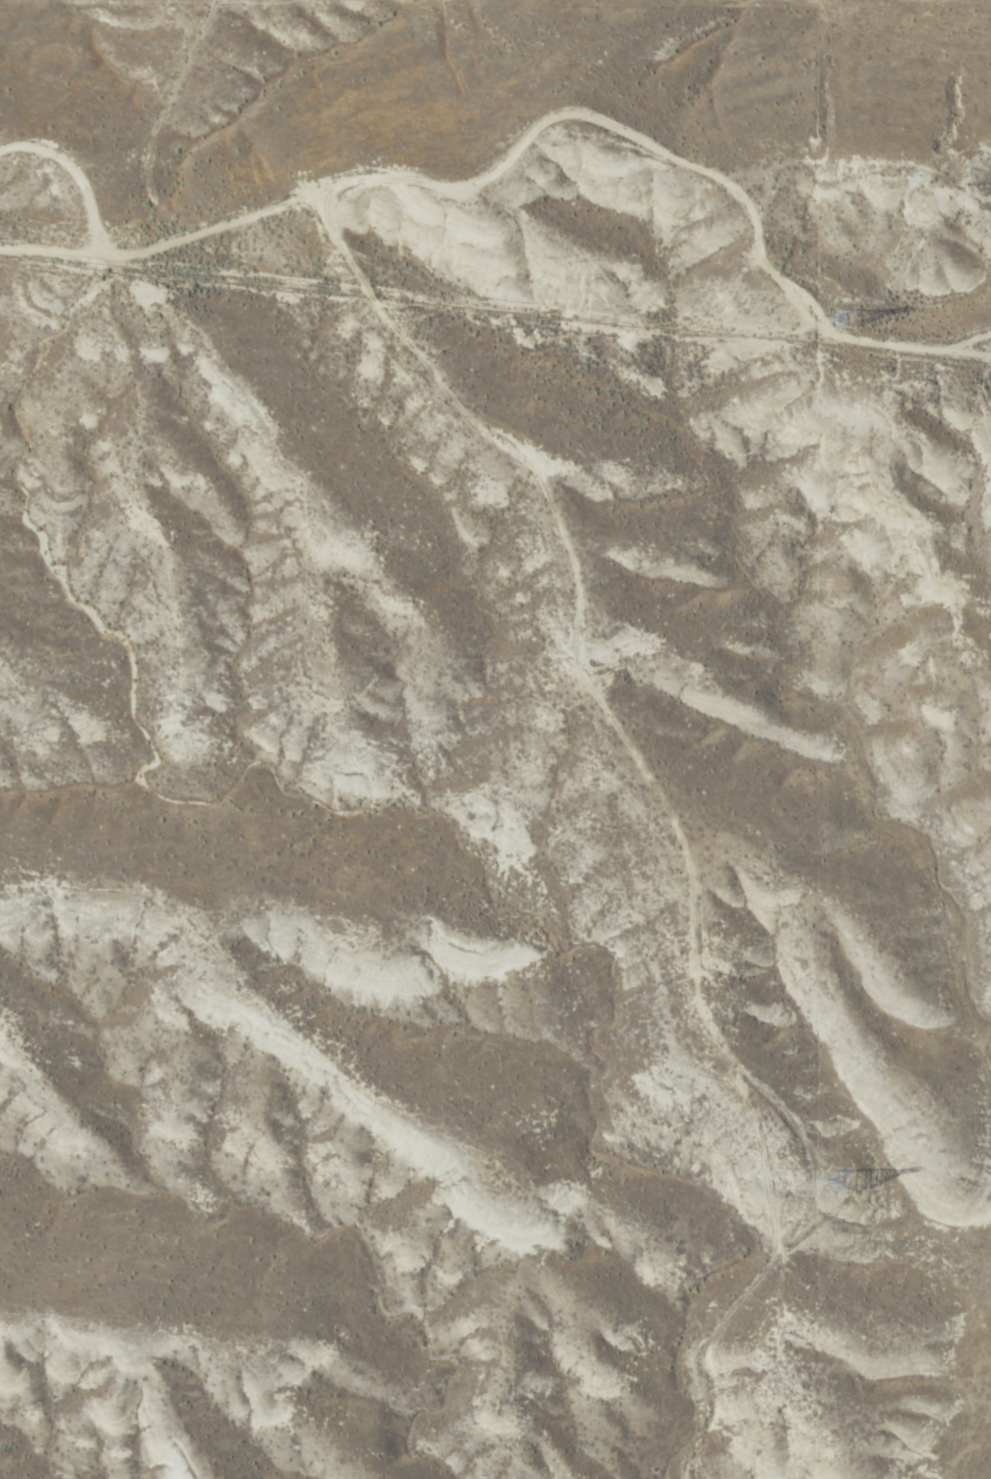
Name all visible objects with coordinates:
road: (518, 182)
power tower: (844, 320)
power tower: (844, 1180)

